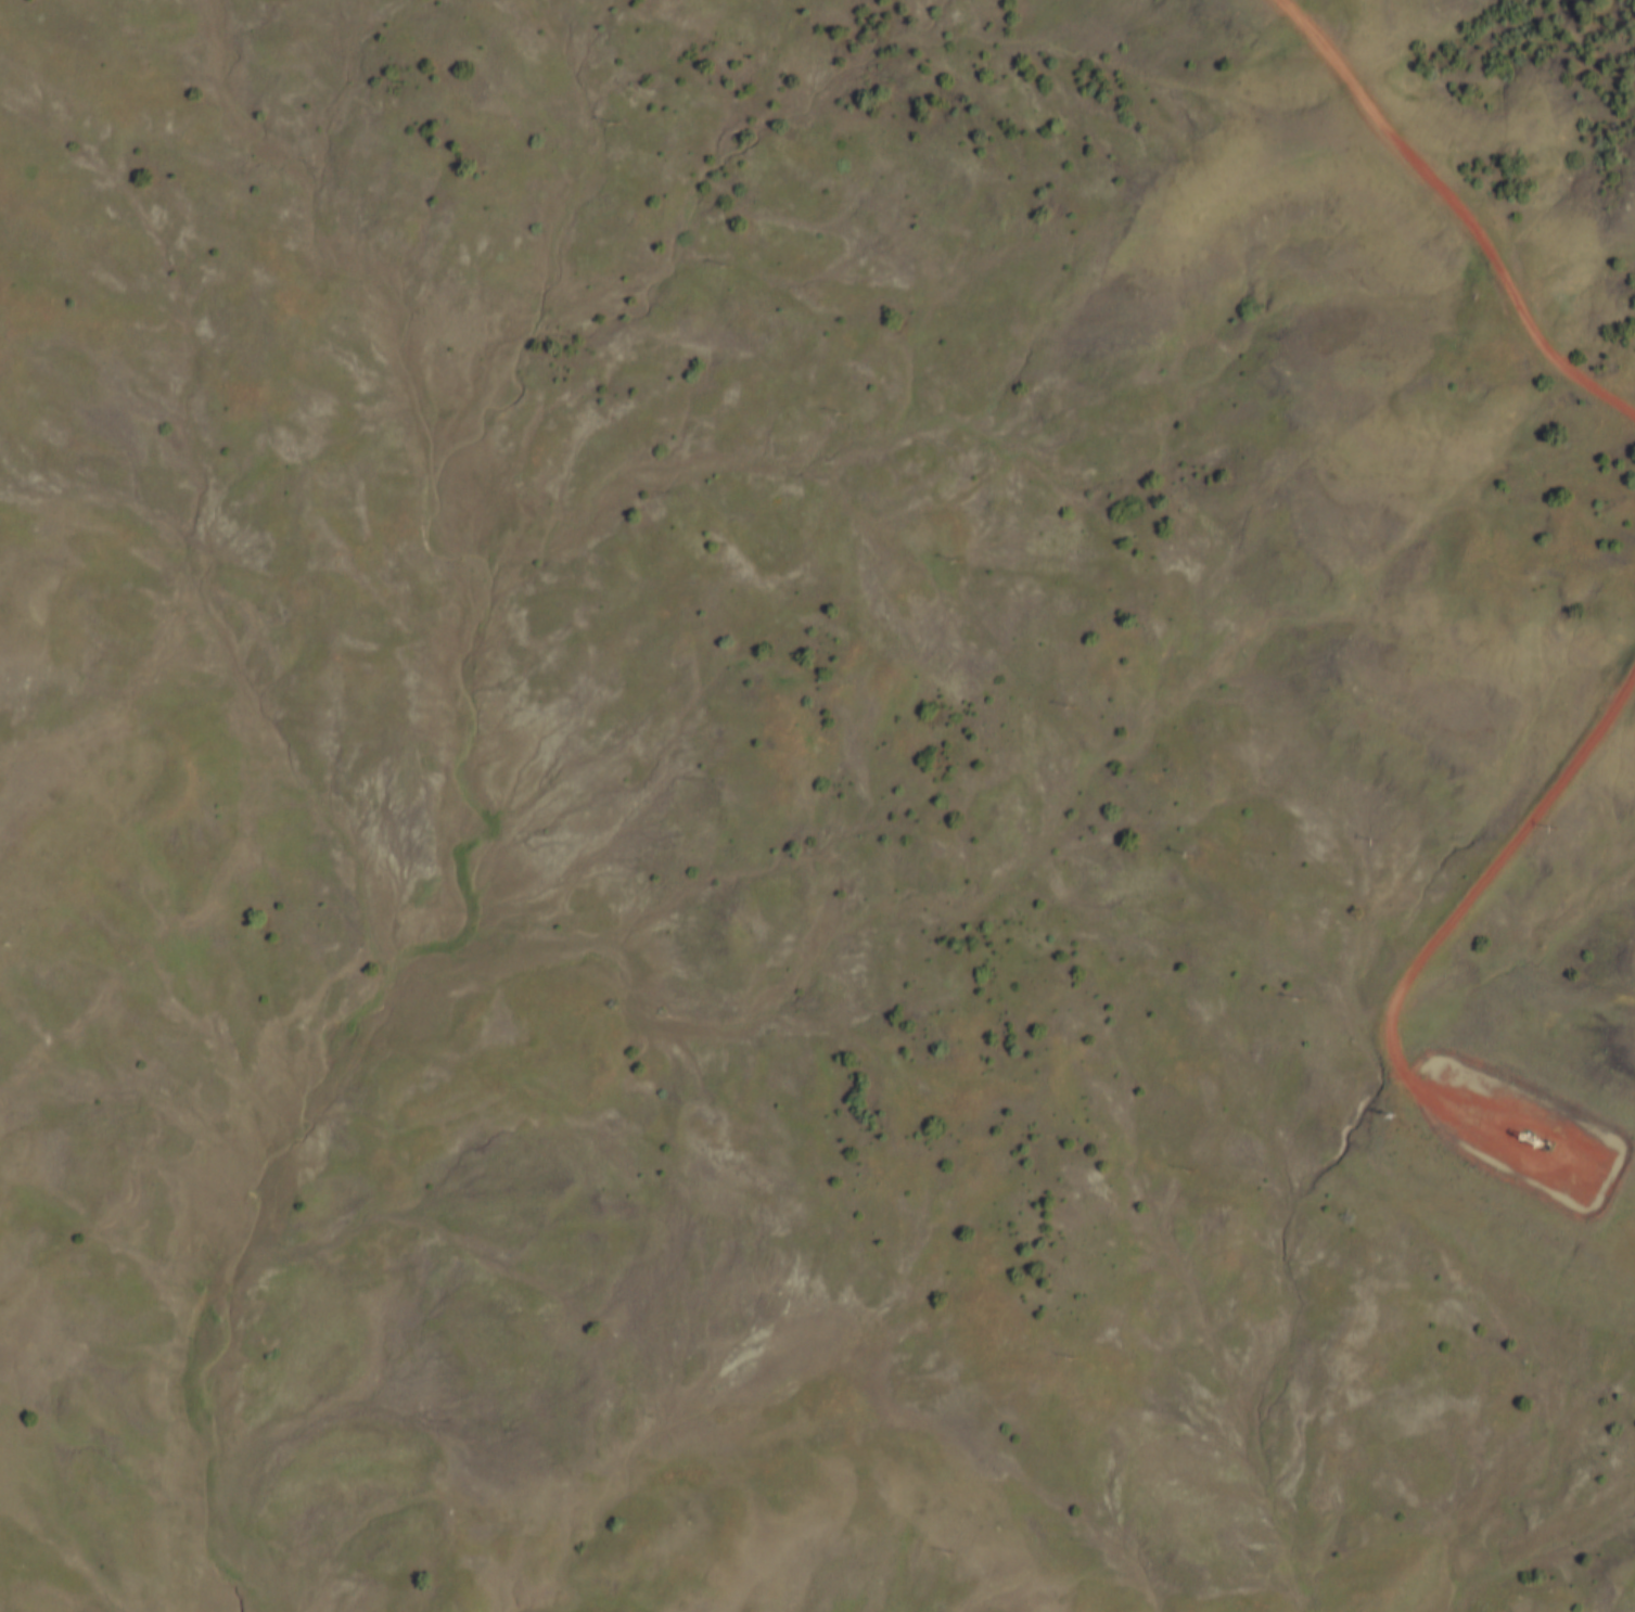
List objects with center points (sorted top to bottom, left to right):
road: (1460, 208)
road: (1479, 887)
petroleum well: (1532, 1135)
road: (1593, 1163)

